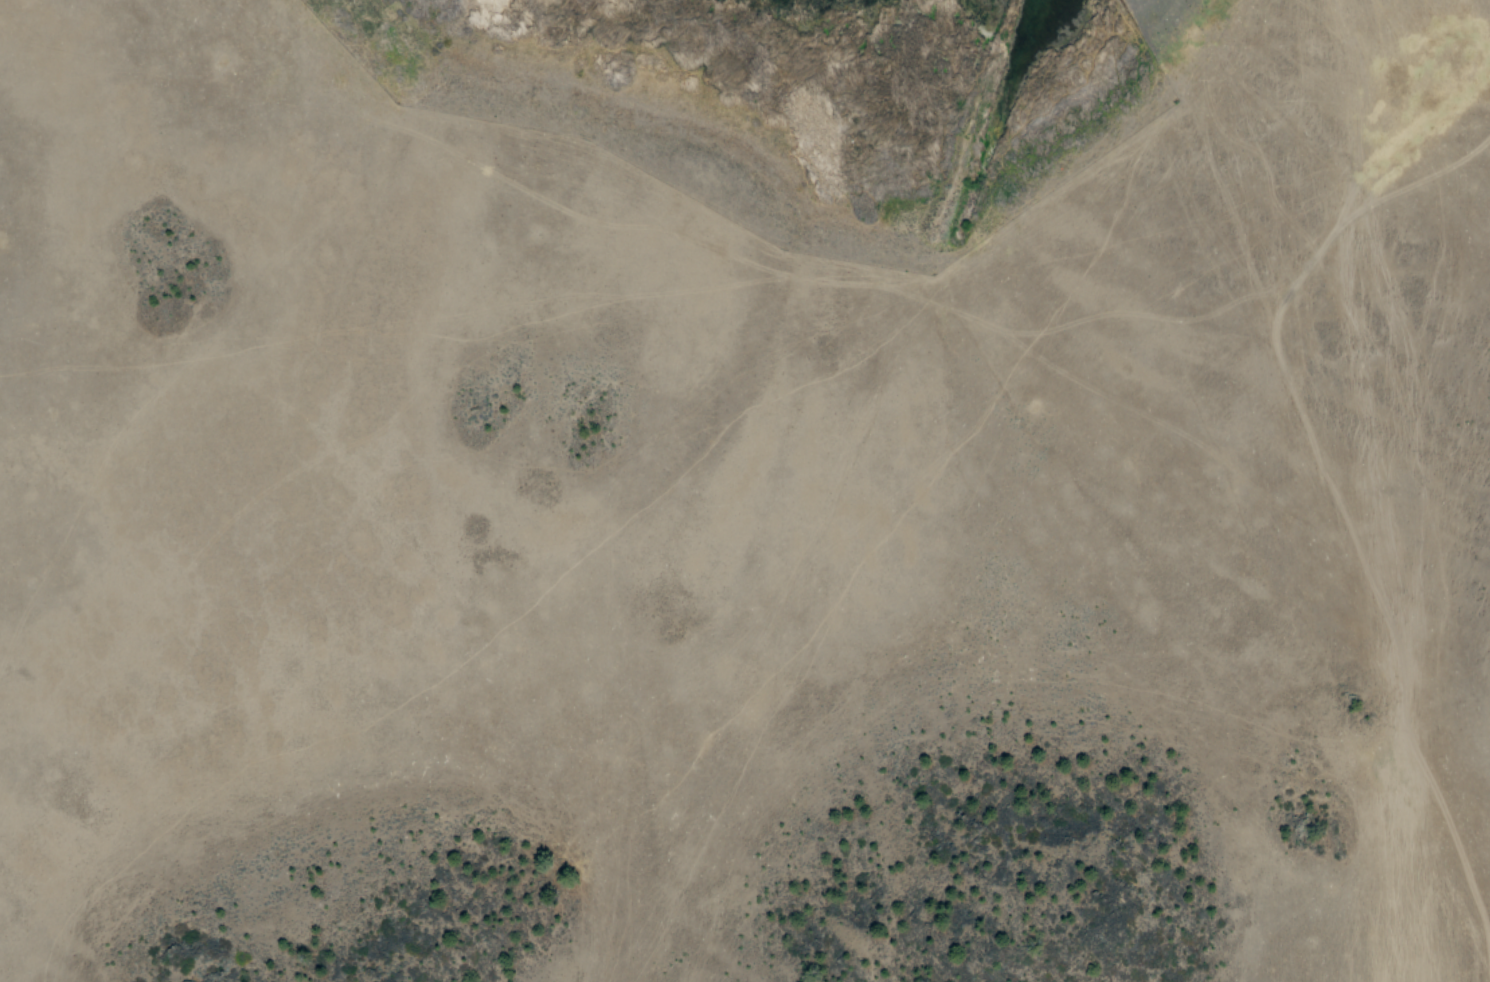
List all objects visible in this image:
road: (1335, 493)

